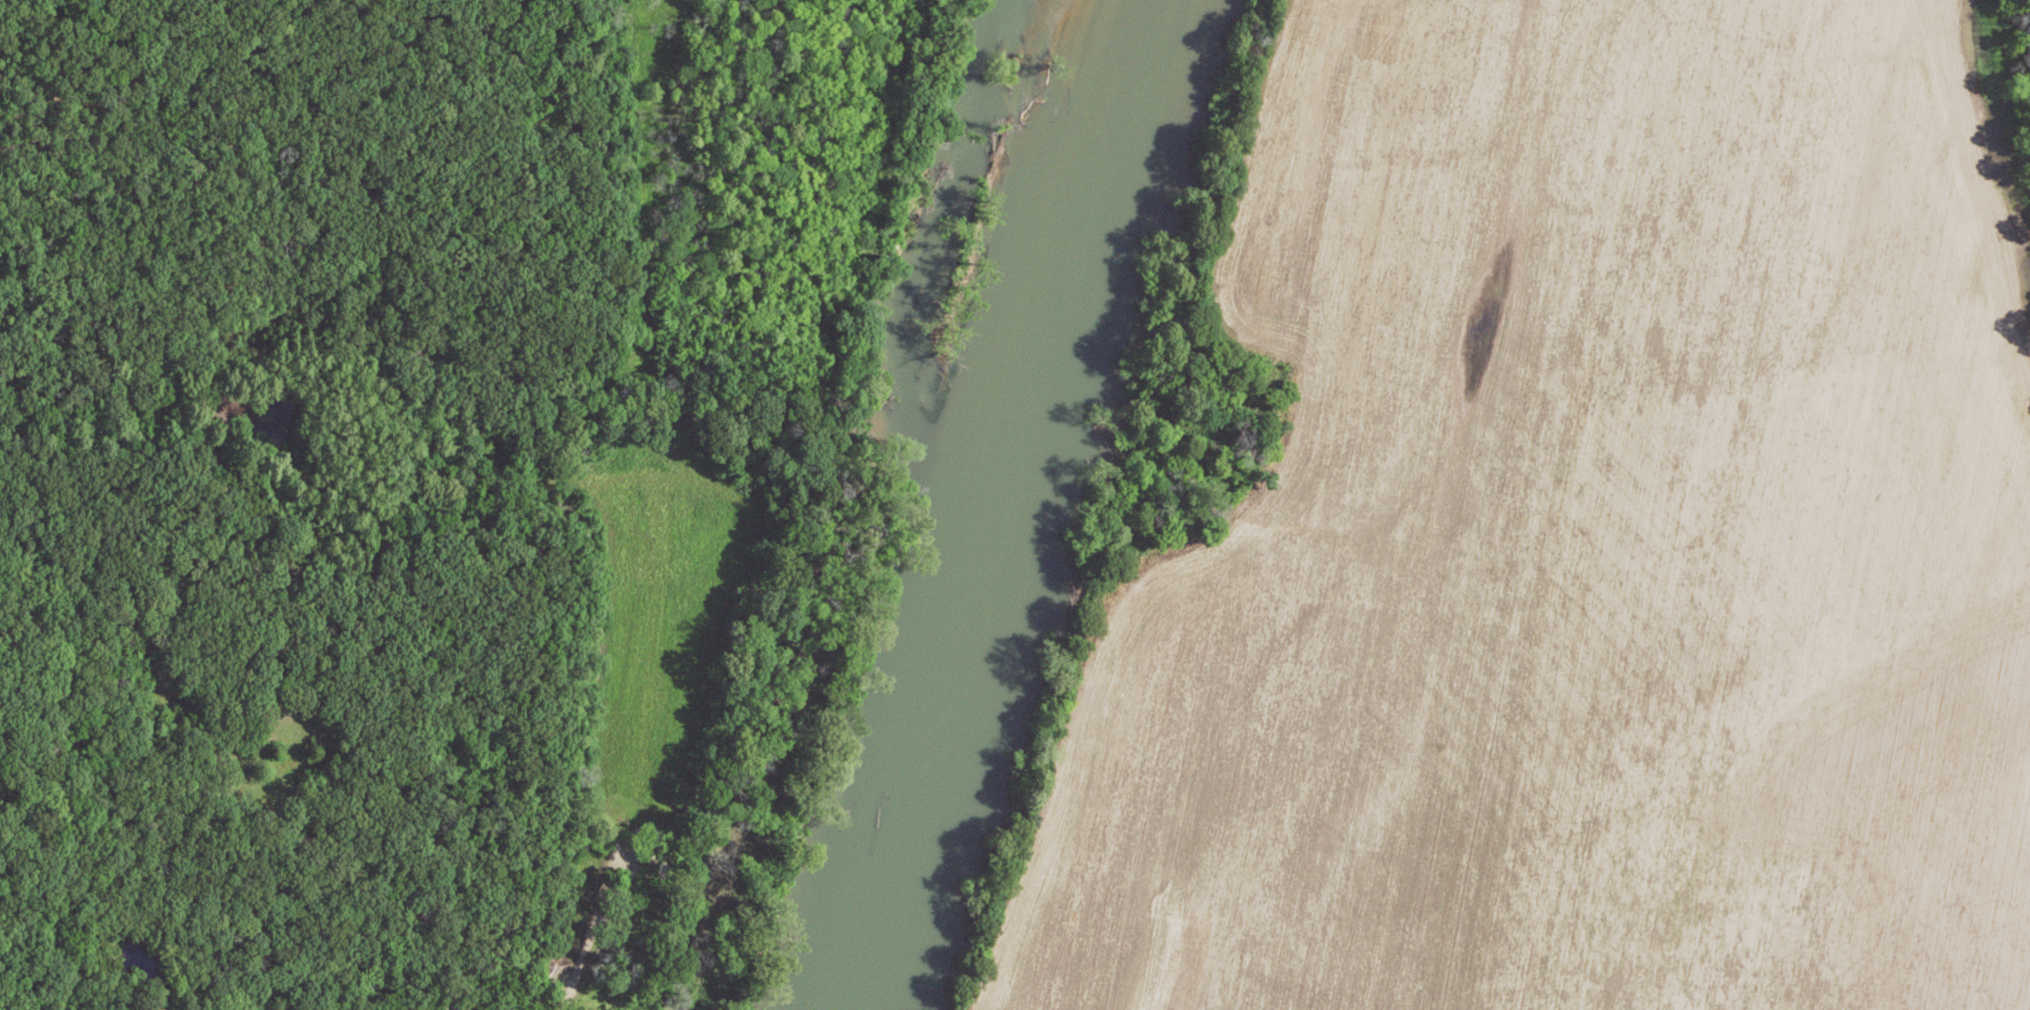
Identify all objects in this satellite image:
river: (984, 499)
building: (643, 940)

